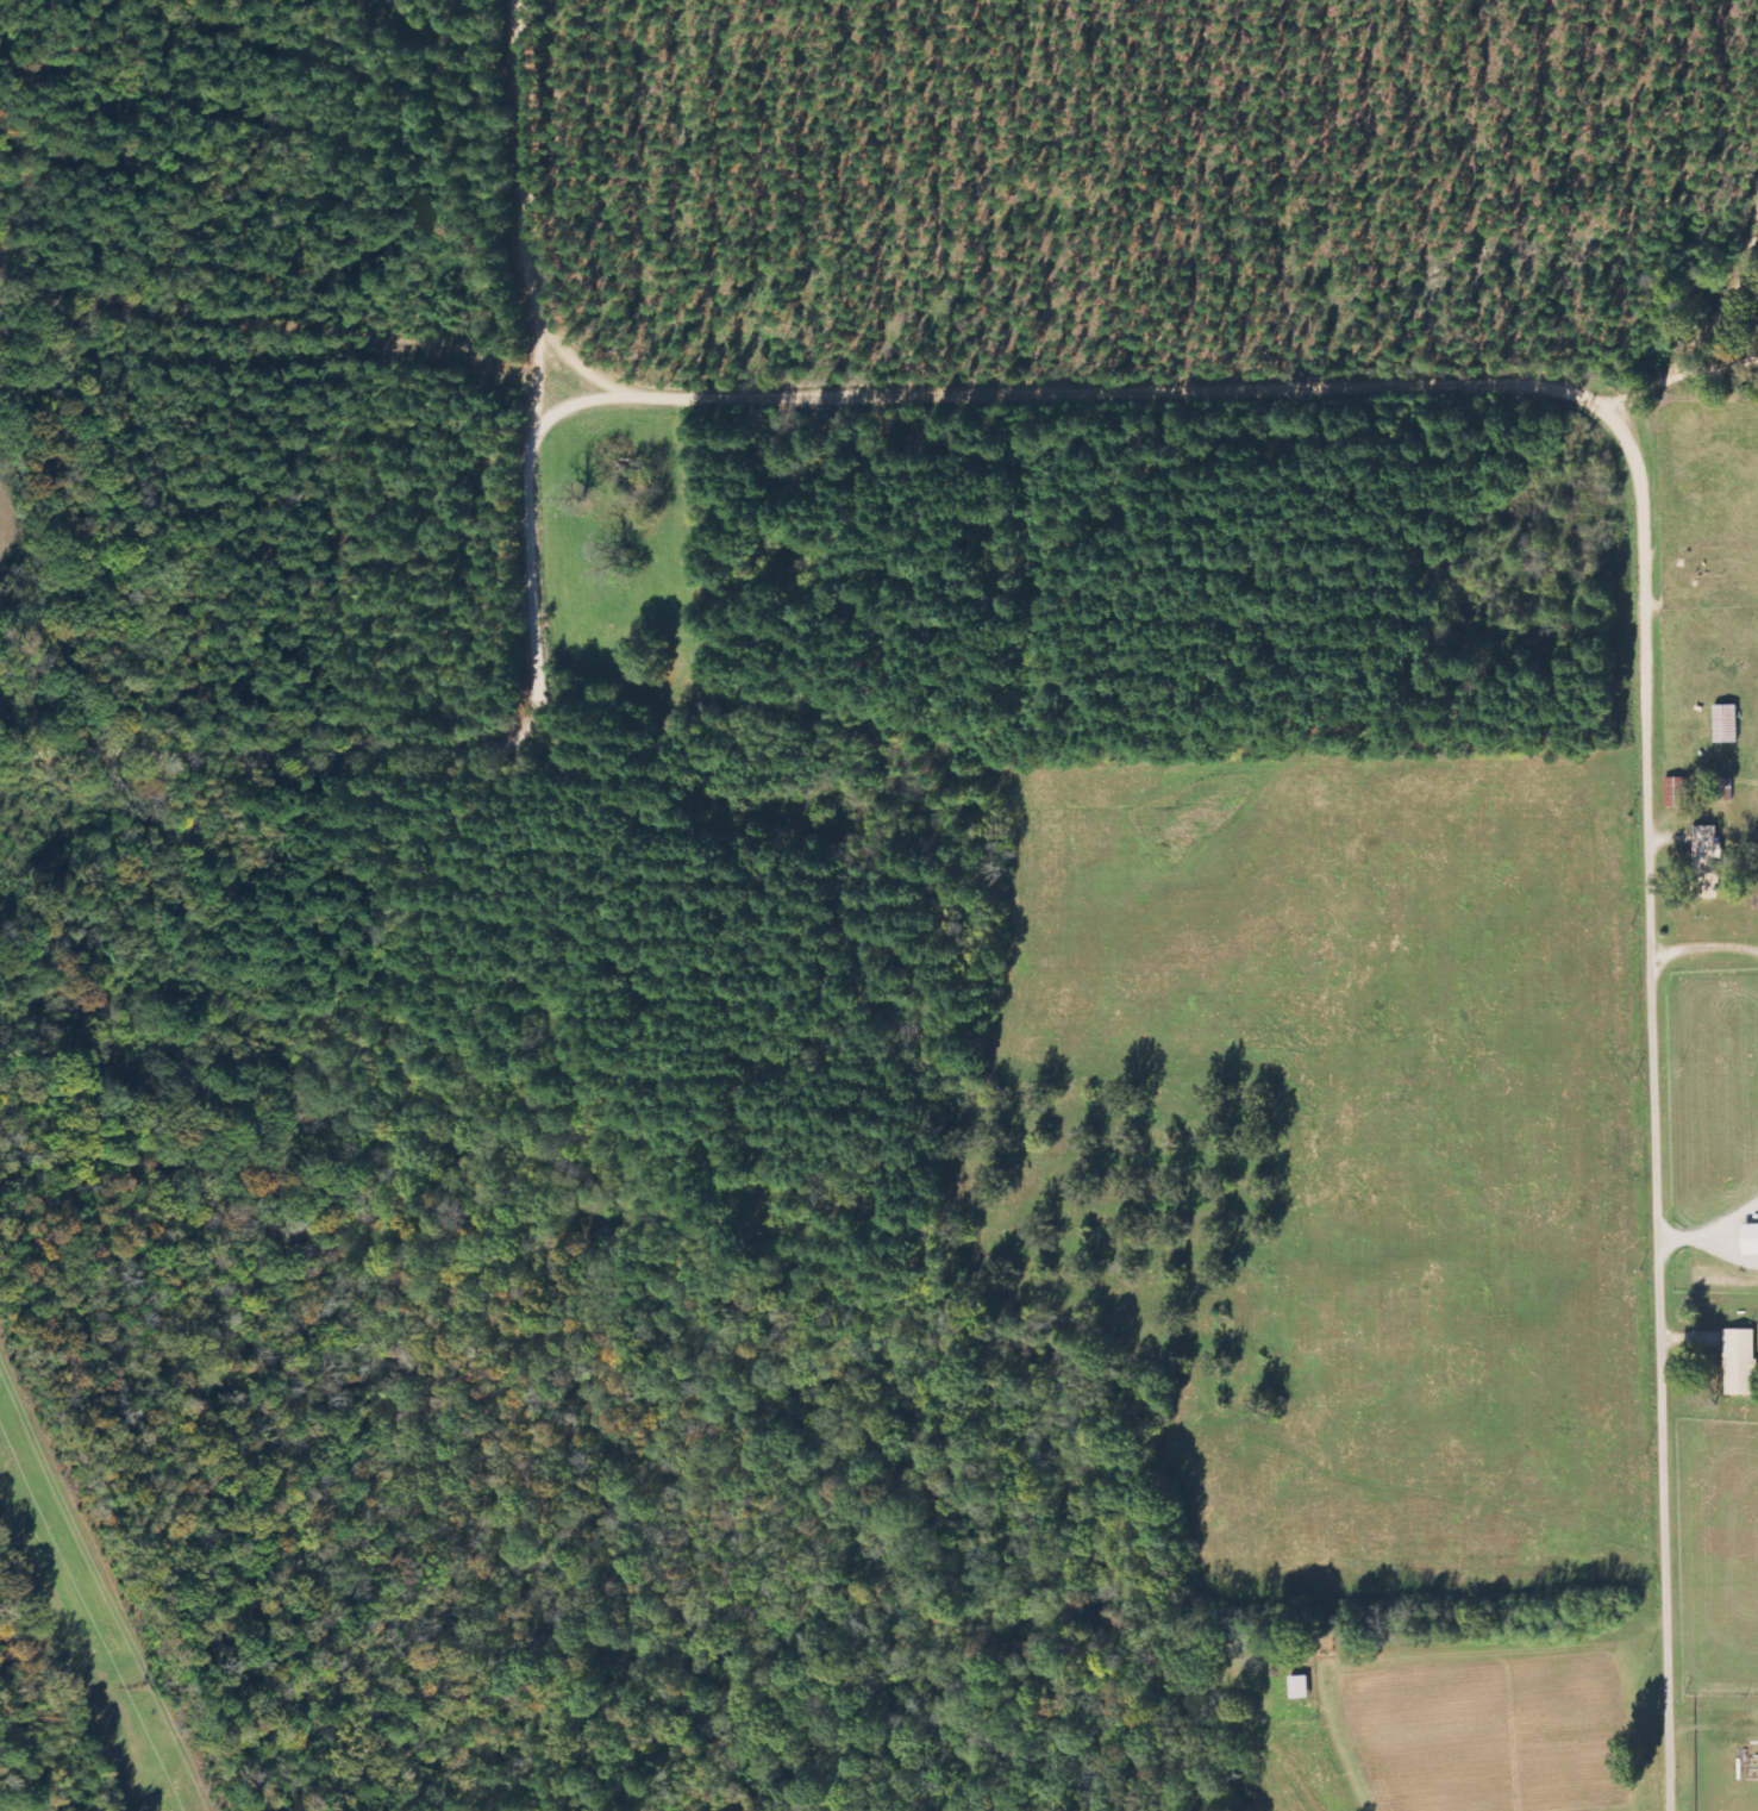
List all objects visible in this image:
road: (1159, 395)
road: (544, 636)
building: (1677, 792)
building: (1707, 861)
road: (1663, 1113)
building: (1751, 1239)
building: (1740, 1362)
building: (1300, 1687)

